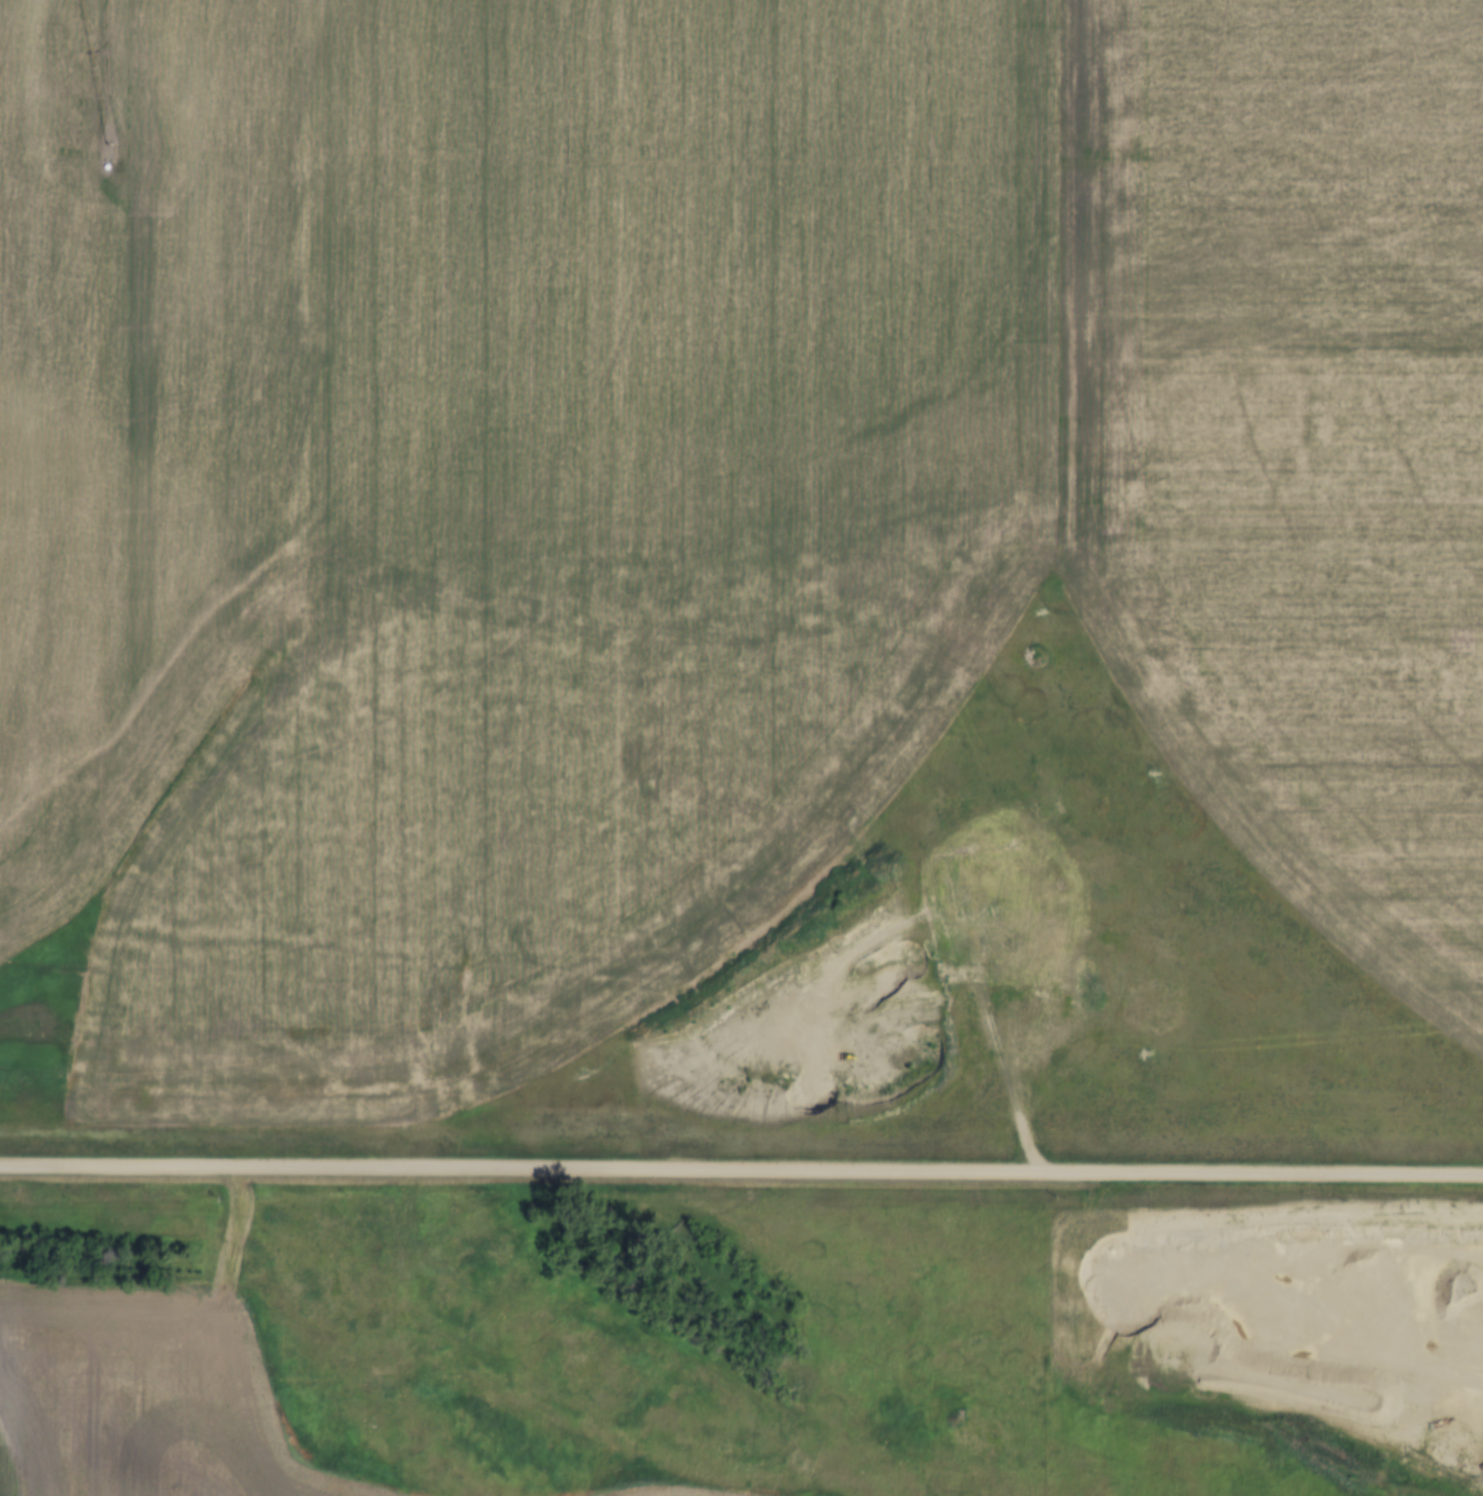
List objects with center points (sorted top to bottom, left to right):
quarry: (946, 986)
road: (741, 1169)
building: (476, 1260)
building: (444, 1295)
building: (306, 1309)
quarry: (1383, 1338)

